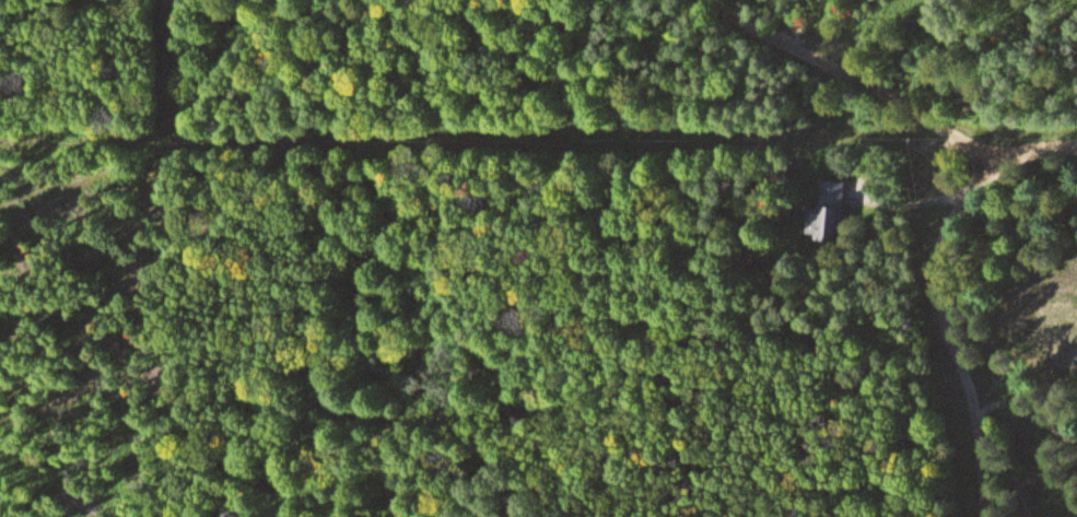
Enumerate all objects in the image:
road: (66, 5)
road: (852, 78)
building: (842, 208)
road: (940, 294)
park: (1037, 372)
road: (1022, 409)

